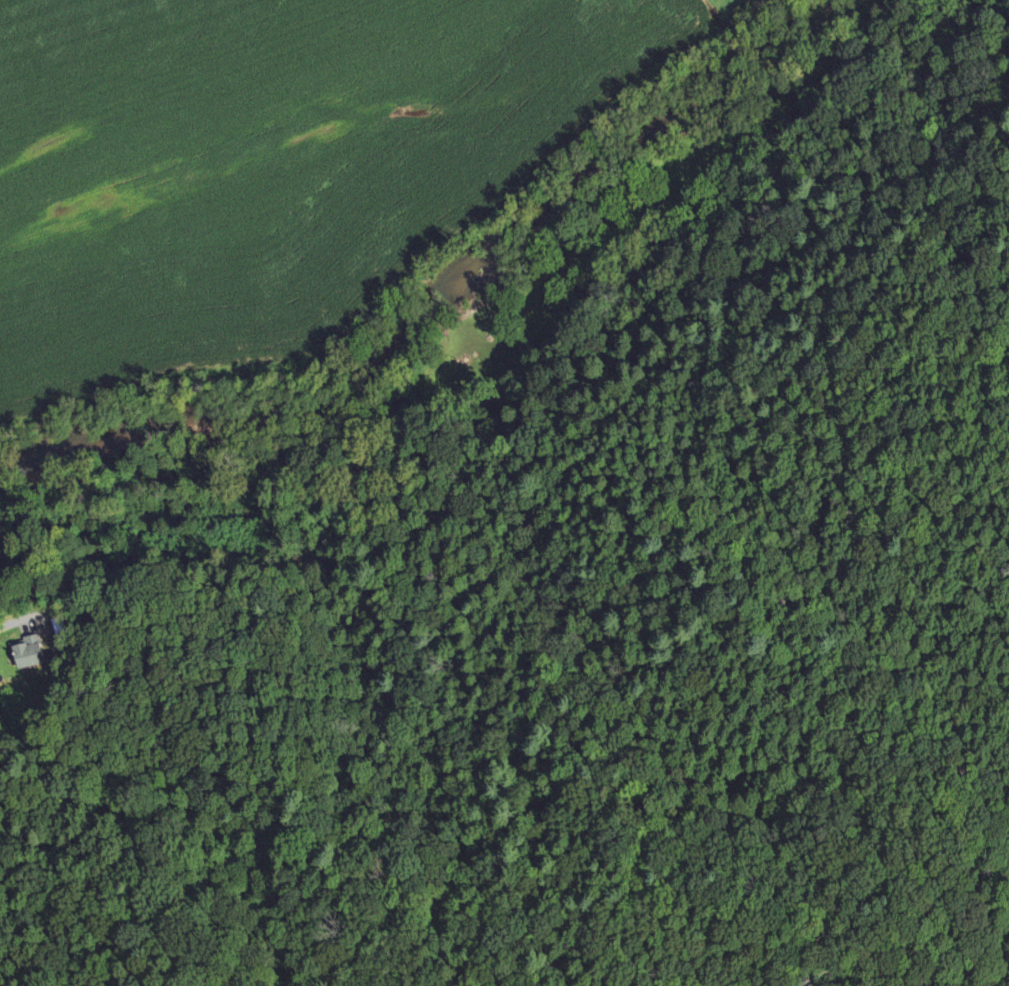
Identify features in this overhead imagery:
river: (444, 298)
building: (464, 386)
road: (491, 392)
road: (10, 625)
building: (27, 653)

